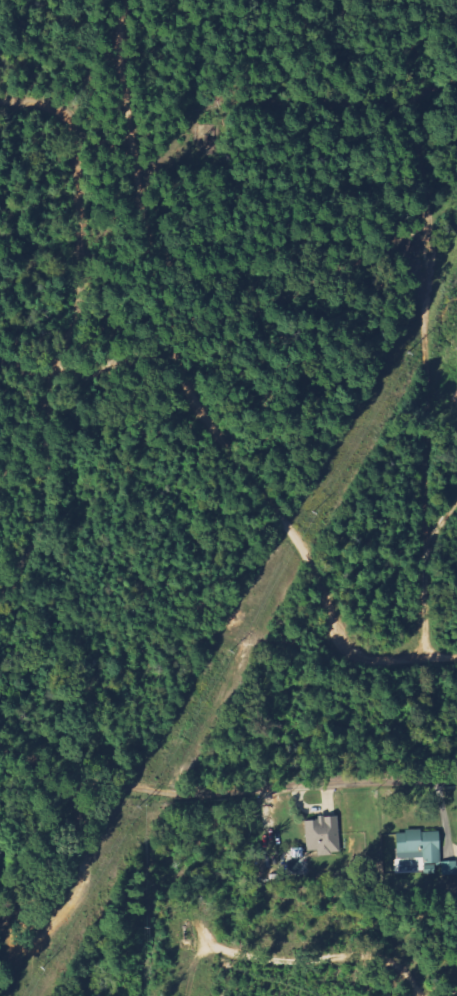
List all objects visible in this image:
road: (69, 327)
road: (31, 757)
road: (258, 793)
building: (325, 834)
building: (423, 844)

